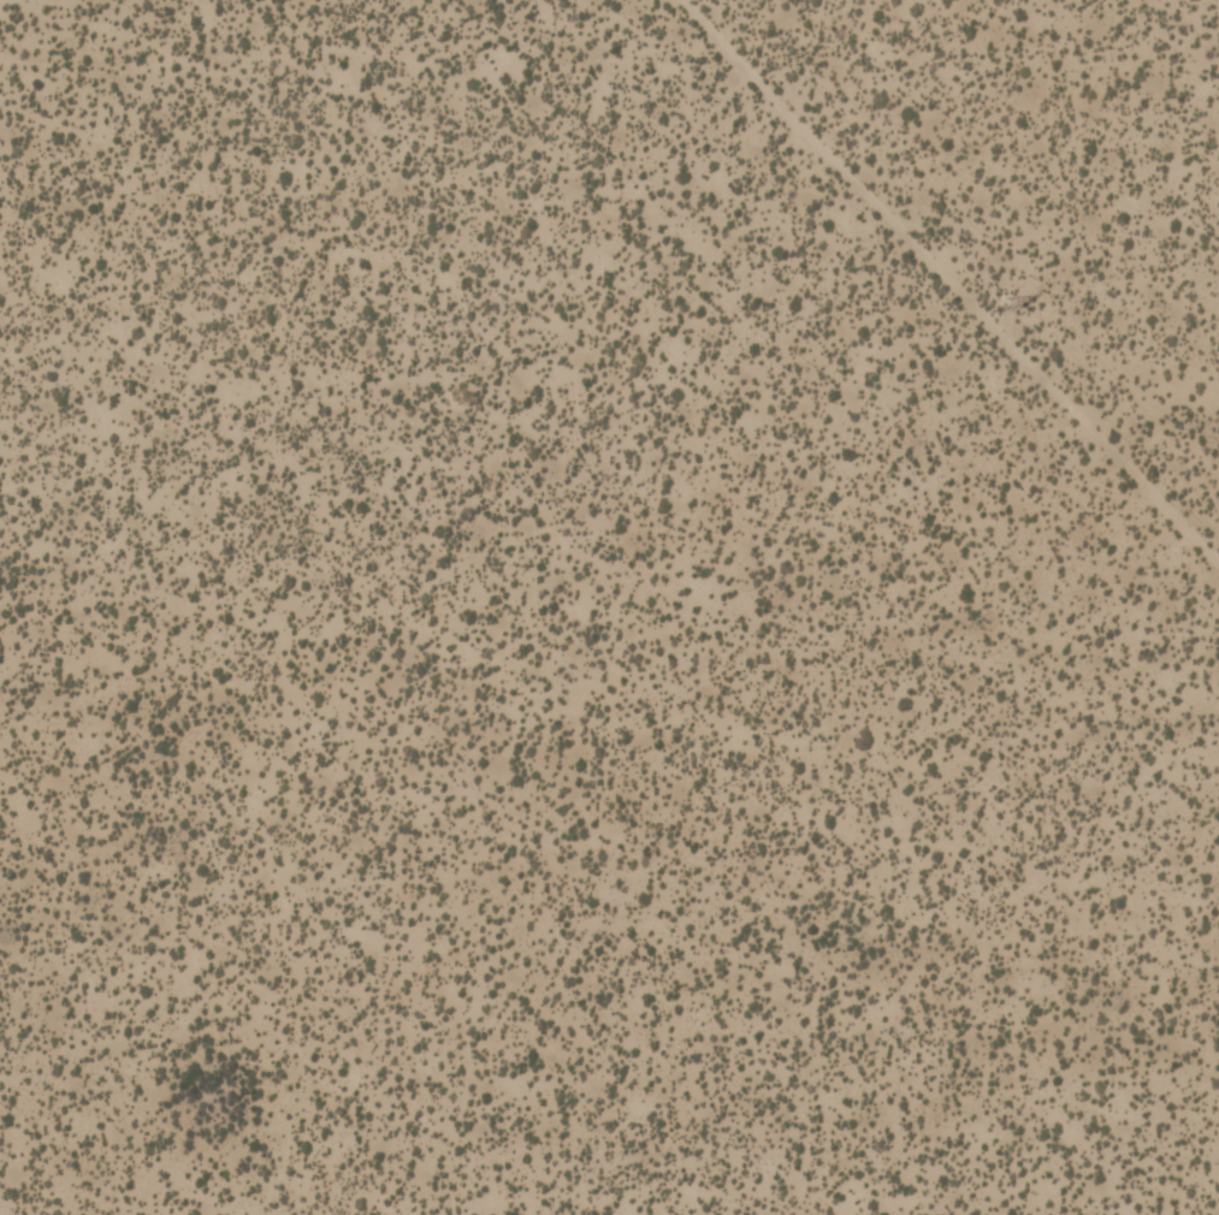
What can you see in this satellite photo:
road: (951, 286)
power tower: (998, 303)

